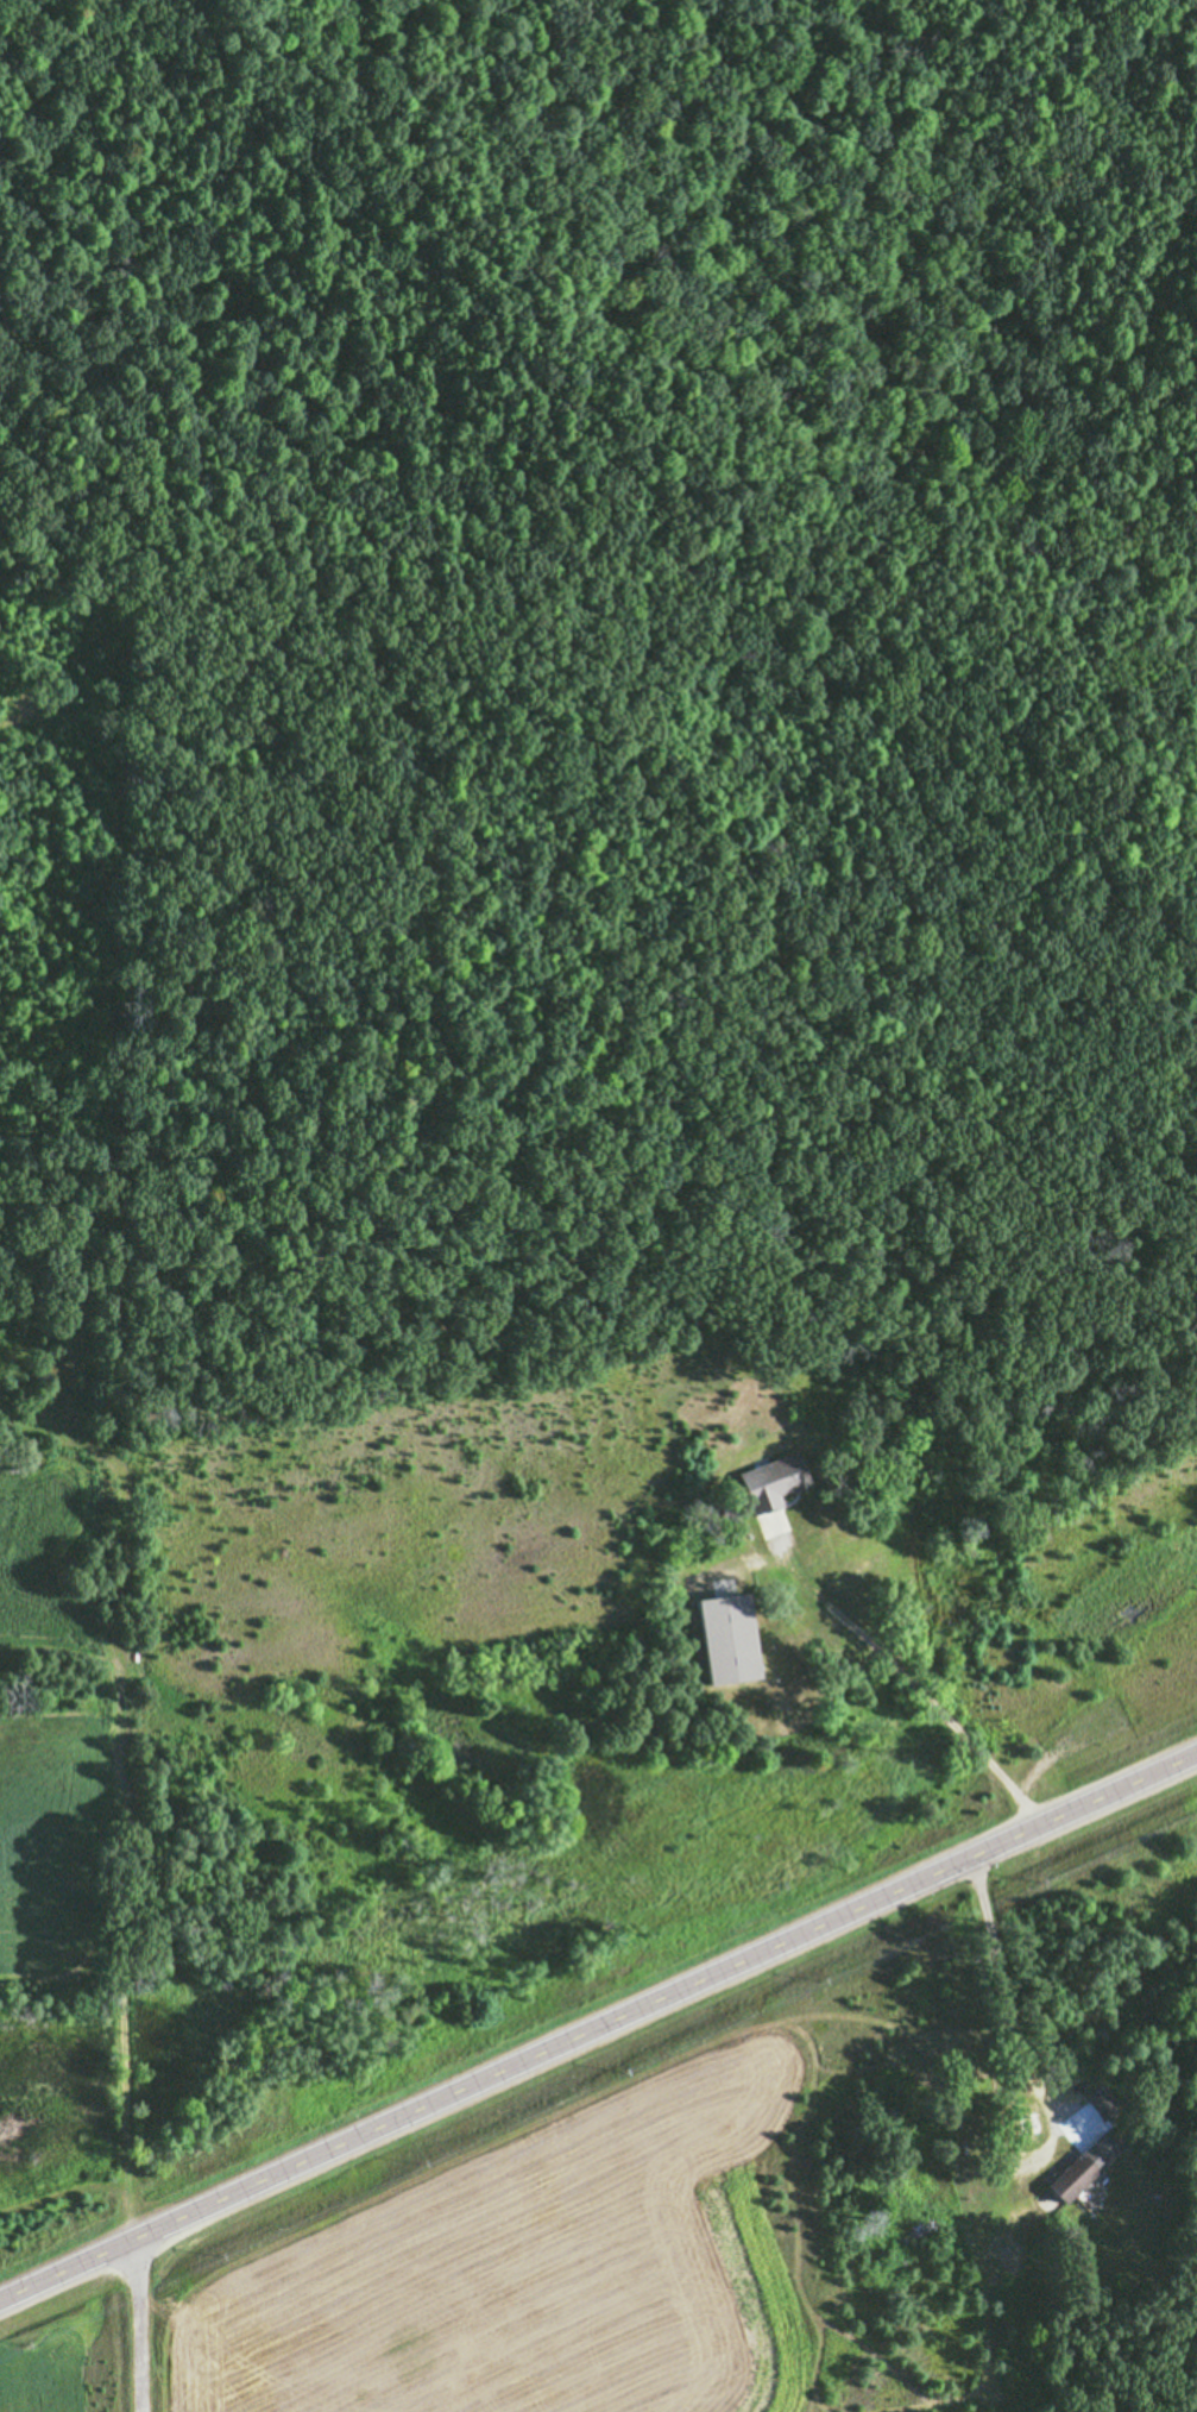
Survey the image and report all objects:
road: (906, 1682)
road: (598, 2022)
building: (981, 2088)
building: (1064, 2096)
building: (1027, 2121)
building: (1072, 2175)
road: (137, 2324)

